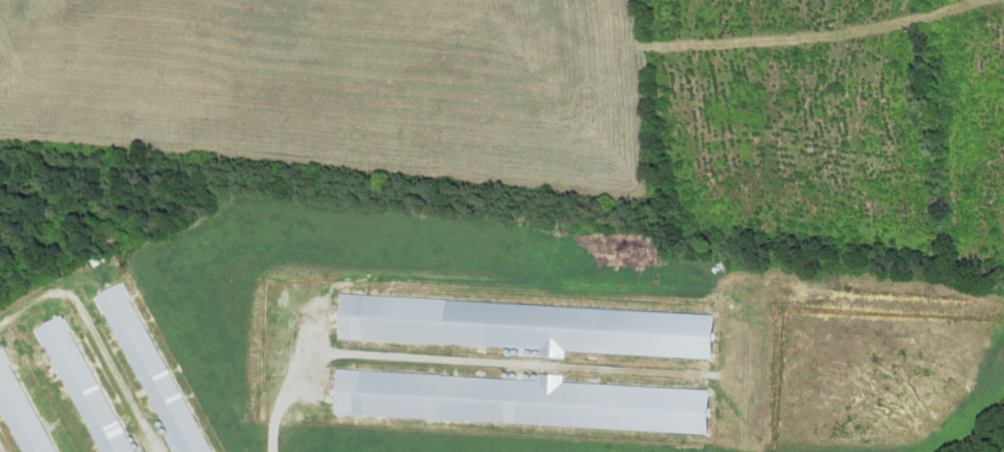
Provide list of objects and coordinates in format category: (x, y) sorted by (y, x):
building: (152, 369)
building: (82, 386)

